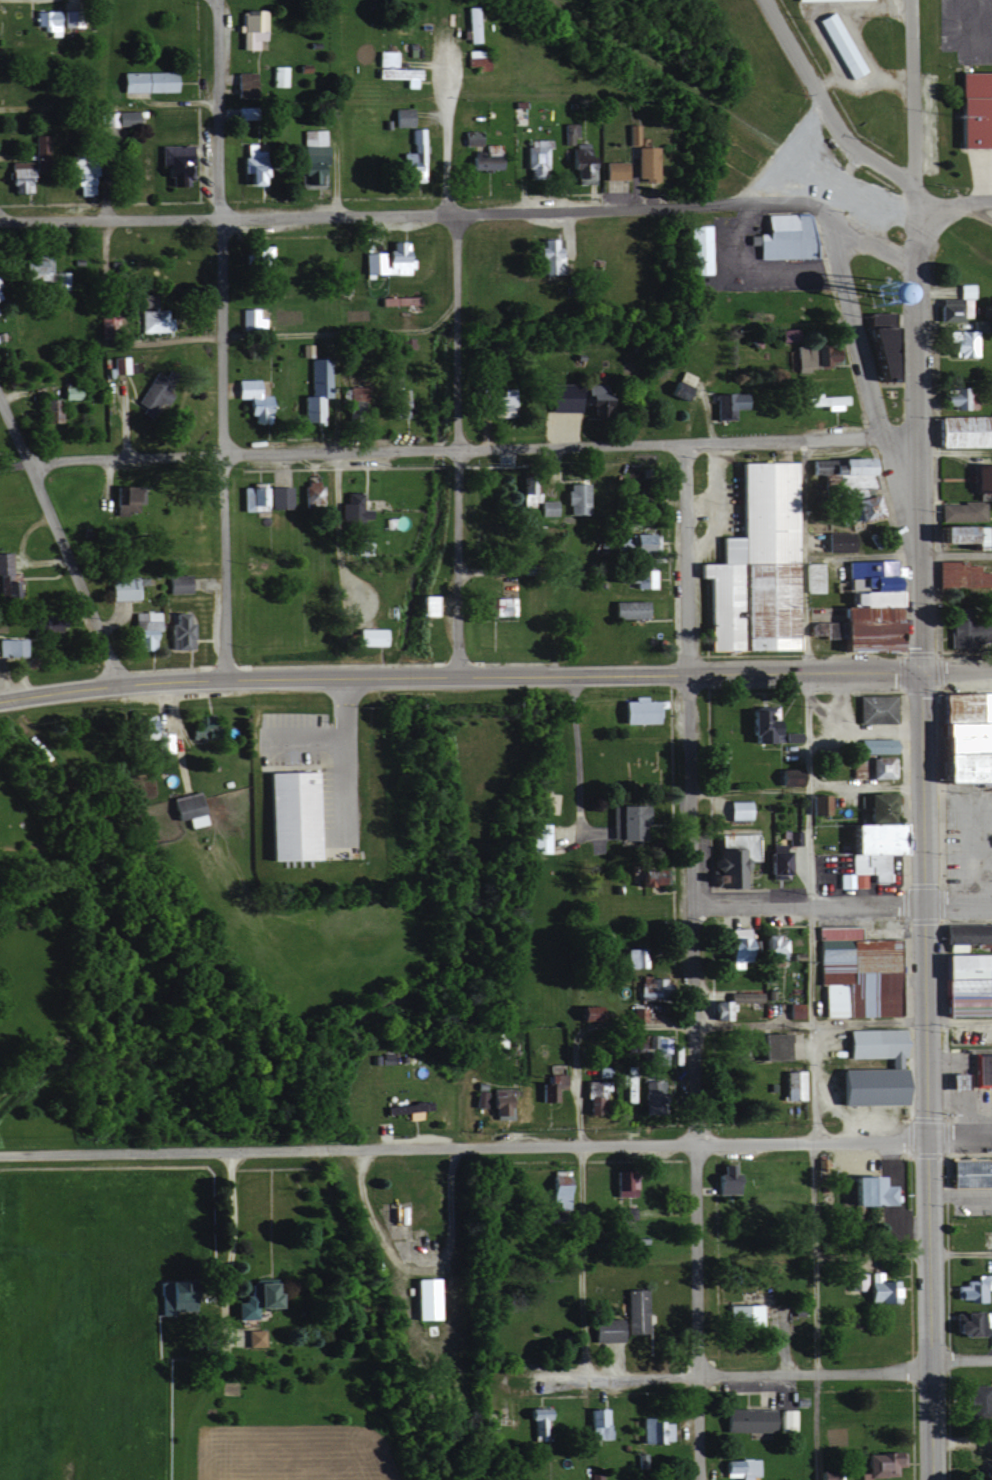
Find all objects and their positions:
road: (213, 4)
building: (48, 21)
building: (472, 23)
building: (837, 45)
building: (477, 57)
building: (384, 58)
building: (398, 74)
building: (278, 75)
building: (143, 80)
road: (910, 95)
road: (823, 106)
building: (972, 108)
building: (400, 116)
building: (120, 119)
building: (569, 132)
building: (629, 132)
building: (467, 137)
road: (443, 144)
road: (777, 152)
building: (412, 156)
building: (310, 157)
building: (483, 157)
building: (534, 158)
building: (173, 162)
building: (641, 162)
building: (580, 164)
building: (249, 167)
building: (611, 170)
building: (76, 173)
building: (17, 175)
road: (929, 203)
road: (968, 205)
road: (692, 208)
road: (449, 216)
road: (221, 219)
building: (782, 236)
road: (927, 239)
building: (696, 249)
building: (546, 256)
building: (385, 259)
building: (255, 261)
building: (32, 268)
road: (102, 275)
building: (395, 299)
building: (952, 304)
building: (249, 318)
building: (153, 320)
road: (682, 327)
building: (786, 333)
road: (332, 338)
road: (218, 339)
building: (881, 341)
building: (958, 342)
building: (812, 353)
building: (118, 364)
road: (862, 382)
building: (316, 389)
building: (573, 397)
building: (956, 397)
building: (253, 398)
building: (824, 400)
building: (400, 402)
building: (726, 403)
building: (496, 404)
building: (47, 410)
building: (961, 430)
road: (914, 431)
road: (895, 441)
road: (456, 446)
road: (451, 452)
building: (850, 484)
building: (526, 492)
building: (306, 494)
building: (125, 496)
building: (276, 496)
building: (252, 498)
building: (574, 498)
building: (547, 507)
building: (349, 509)
building: (963, 511)
road: (60, 541)
building: (835, 541)
building: (634, 542)
building: (358, 547)
road: (954, 554)
building: (2, 562)
road: (682, 562)
building: (753, 562)
building: (957, 573)
building: (639, 577)
building: (813, 577)
building: (177, 583)
building: (122, 587)
building: (862, 602)
building: (425, 605)
building: (499, 605)
building: (627, 609)
building: (50, 623)
building: (817, 628)
building: (142, 629)
building: (177, 632)
building: (966, 632)
building: (369, 636)
building: (13, 646)
road: (955, 672)
road: (458, 676)
building: (872, 708)
building: (634, 710)
building: (759, 725)
building: (147, 731)
road: (174, 735)
building: (871, 744)
building: (715, 760)
building: (869, 766)
road: (803, 786)
building: (818, 803)
building: (872, 805)
building: (185, 808)
building: (735, 810)
building: (285, 815)
building: (624, 821)
building: (540, 837)
building: (863, 854)
building: (729, 858)
building: (773, 863)
building: (646, 876)
road: (807, 909)
road: (957, 909)
road: (806, 910)
building: (735, 942)
building: (768, 950)
building: (631, 957)
building: (854, 972)
building: (964, 984)
building: (651, 986)
building: (719, 1010)
building: (794, 1010)
building: (639, 1015)
road: (608, 1025)
building: (872, 1043)
building: (766, 1046)
building: (649, 1049)
road: (925, 1076)
road: (694, 1078)
building: (950, 1081)
building: (623, 1085)
building: (791, 1085)
building: (865, 1086)
building: (547, 1089)
building: (645, 1096)
building: (587, 1097)
building: (490, 1101)
road: (958, 1137)
road: (462, 1146)
building: (968, 1173)
building: (720, 1180)
building: (619, 1182)
building: (863, 1191)
road: (399, 1201)
building: (624, 1213)
road: (228, 1223)
road: (958, 1251)
building: (972, 1288)
building: (876, 1289)
building: (169, 1298)
building: (424, 1298)
building: (247, 1301)
building: (631, 1311)
building: (741, 1315)
building: (602, 1329)
building: (250, 1337)
road: (958, 1361)
road: (711, 1375)
building: (975, 1401)
building: (743, 1419)
building: (785, 1420)
building: (596, 1423)
building: (537, 1426)
road: (814, 1427)
building: (652, 1430)
building: (877, 1465)
building: (731, 1467)

